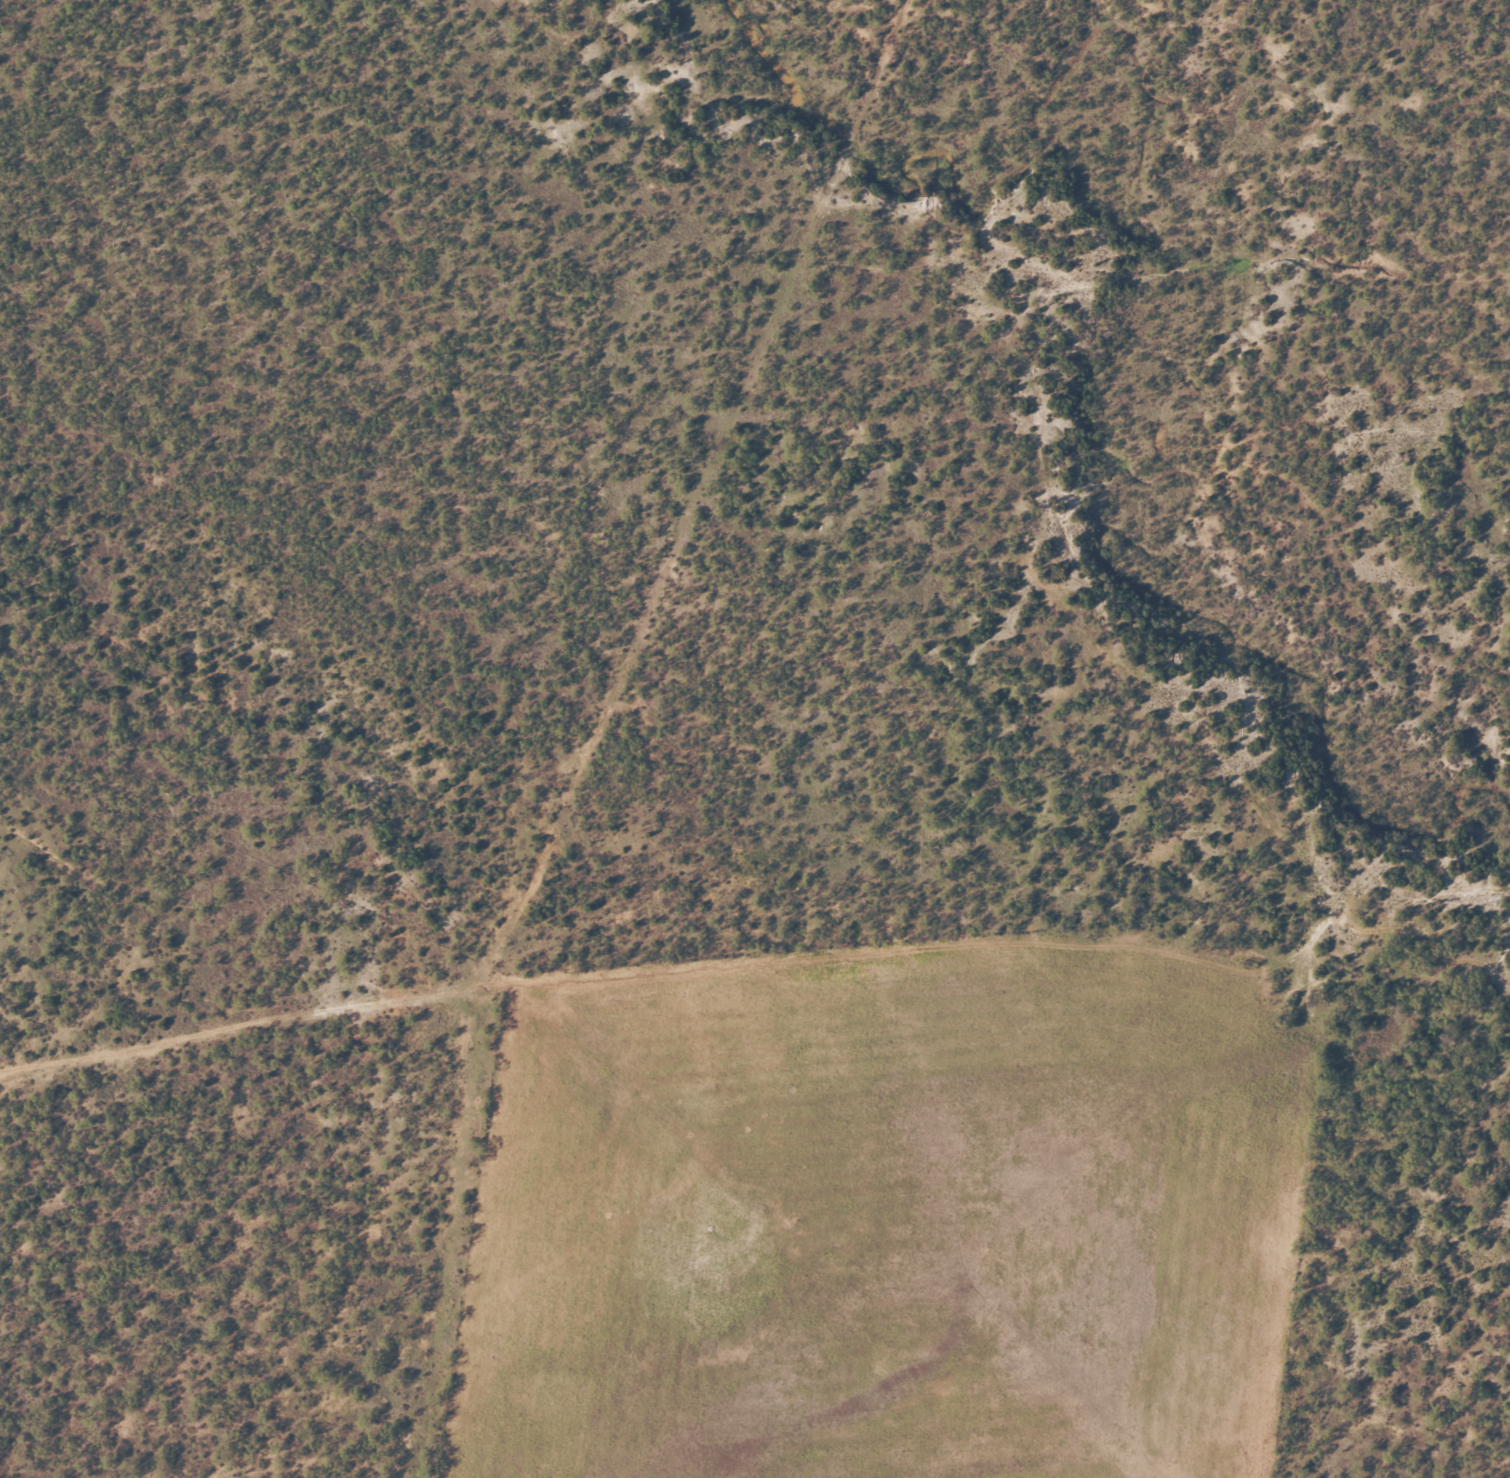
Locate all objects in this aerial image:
road: (1285, 953)

